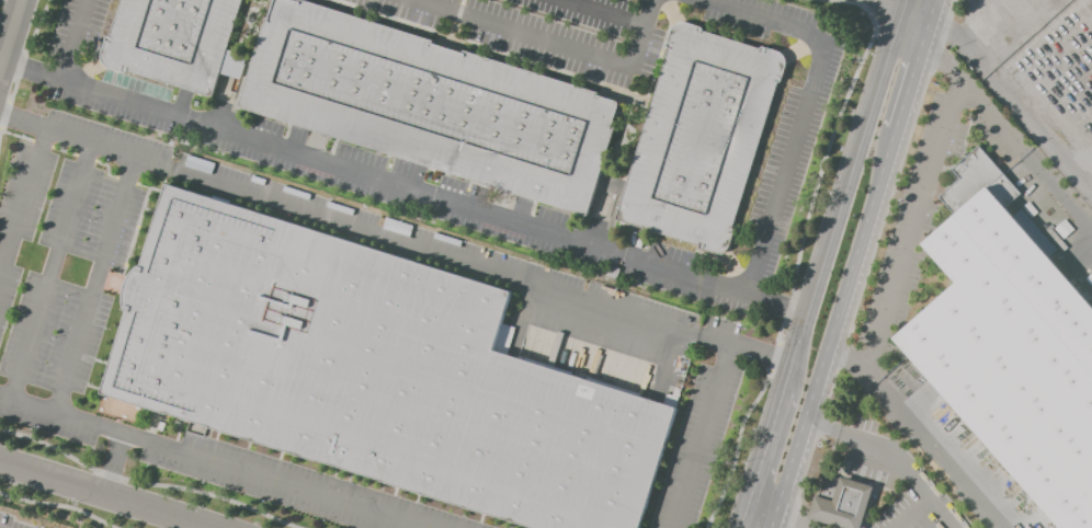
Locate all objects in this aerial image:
road: (921, 3)
road: (932, 3)
road: (604, 12)
road: (1008, 16)
road: (11, 34)
road: (1020, 34)
road: (76, 39)
building: (173, 39)
road: (556, 42)
road: (914, 66)
road: (34, 69)
road: (1010, 101)
building: (431, 104)
road: (801, 107)
road: (22, 123)
road: (1008, 134)
building: (699, 139)
road: (407, 187)
road: (842, 195)
road: (22, 199)
building: (1030, 208)
road: (912, 223)
building: (1063, 228)
building: (1036, 230)
road: (387, 236)
road: (48, 272)
road: (93, 286)
road: (777, 306)
road: (833, 326)
building: (502, 337)
building: (1011, 343)
road: (760, 353)
building: (373, 370)
road: (917, 429)
road: (699, 435)
road: (765, 445)
road: (207, 462)
road: (891, 462)
road: (106, 494)
road: (783, 501)
building: (840, 502)
road: (944, 513)
road: (743, 514)
road: (758, 514)
road: (195, 525)

